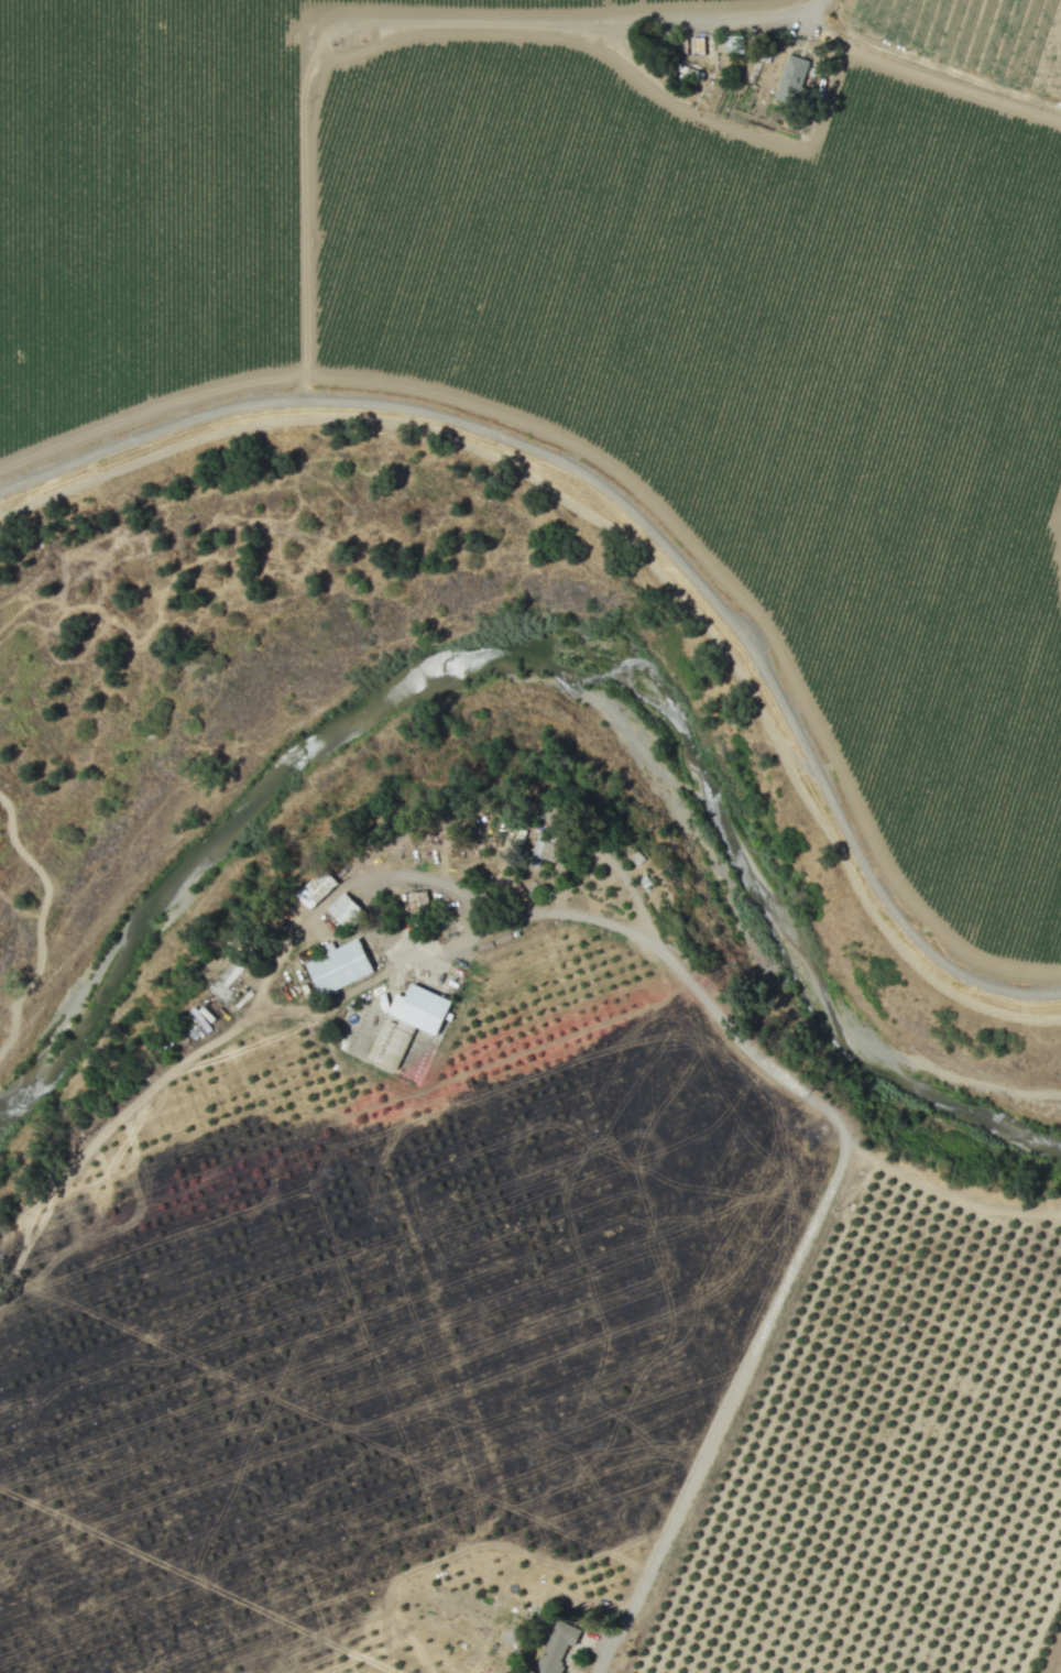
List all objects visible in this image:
road: (581, 31)
building: (686, 46)
building: (790, 79)
road: (632, 514)
river: (556, 656)
building: (540, 852)
building: (316, 889)
building: (417, 900)
building: (342, 909)
building: (339, 967)
road: (260, 988)
building: (428, 1027)
road: (939, 1192)
road: (817, 1218)
building: (556, 1648)

